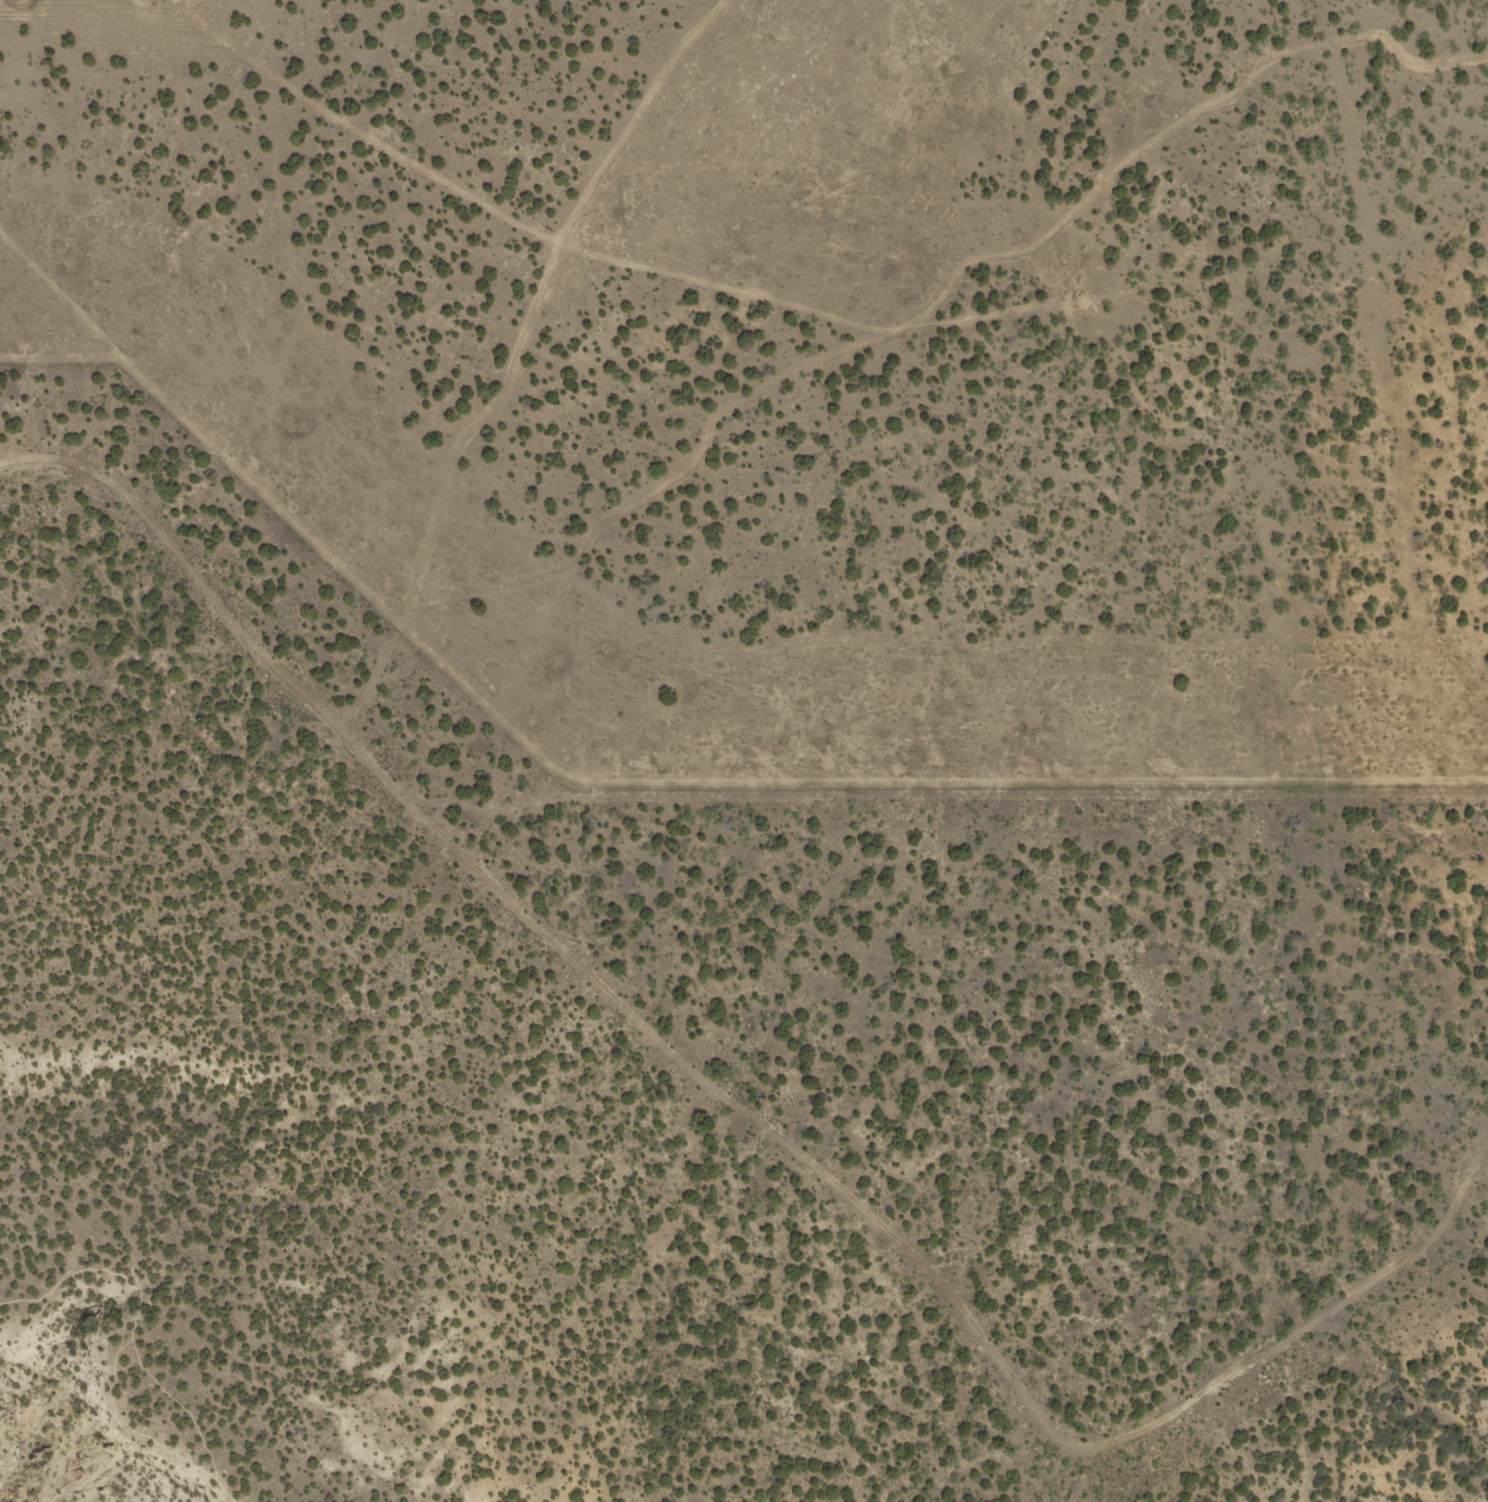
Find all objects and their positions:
road: (737, 1104)
road: (121, 1348)
road: (1077, 1475)

